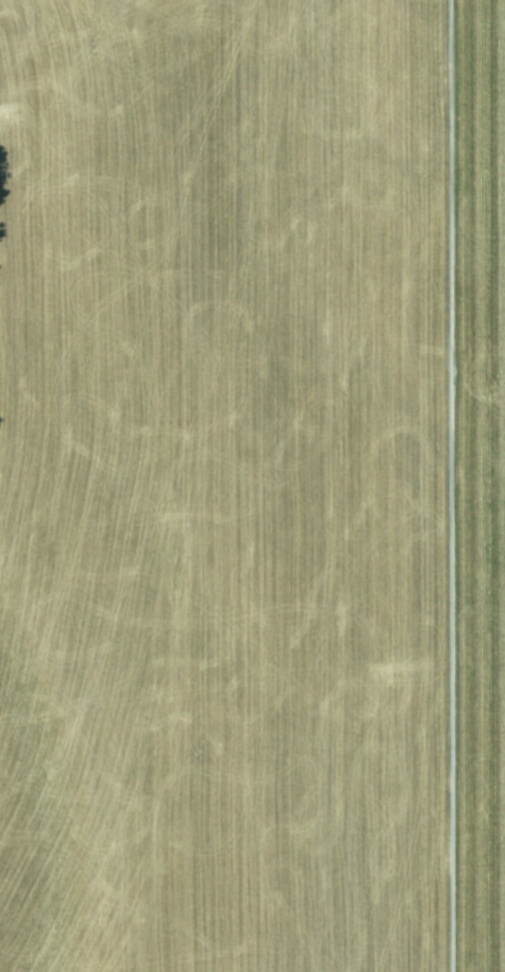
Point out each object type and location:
crop: (252, 486)

